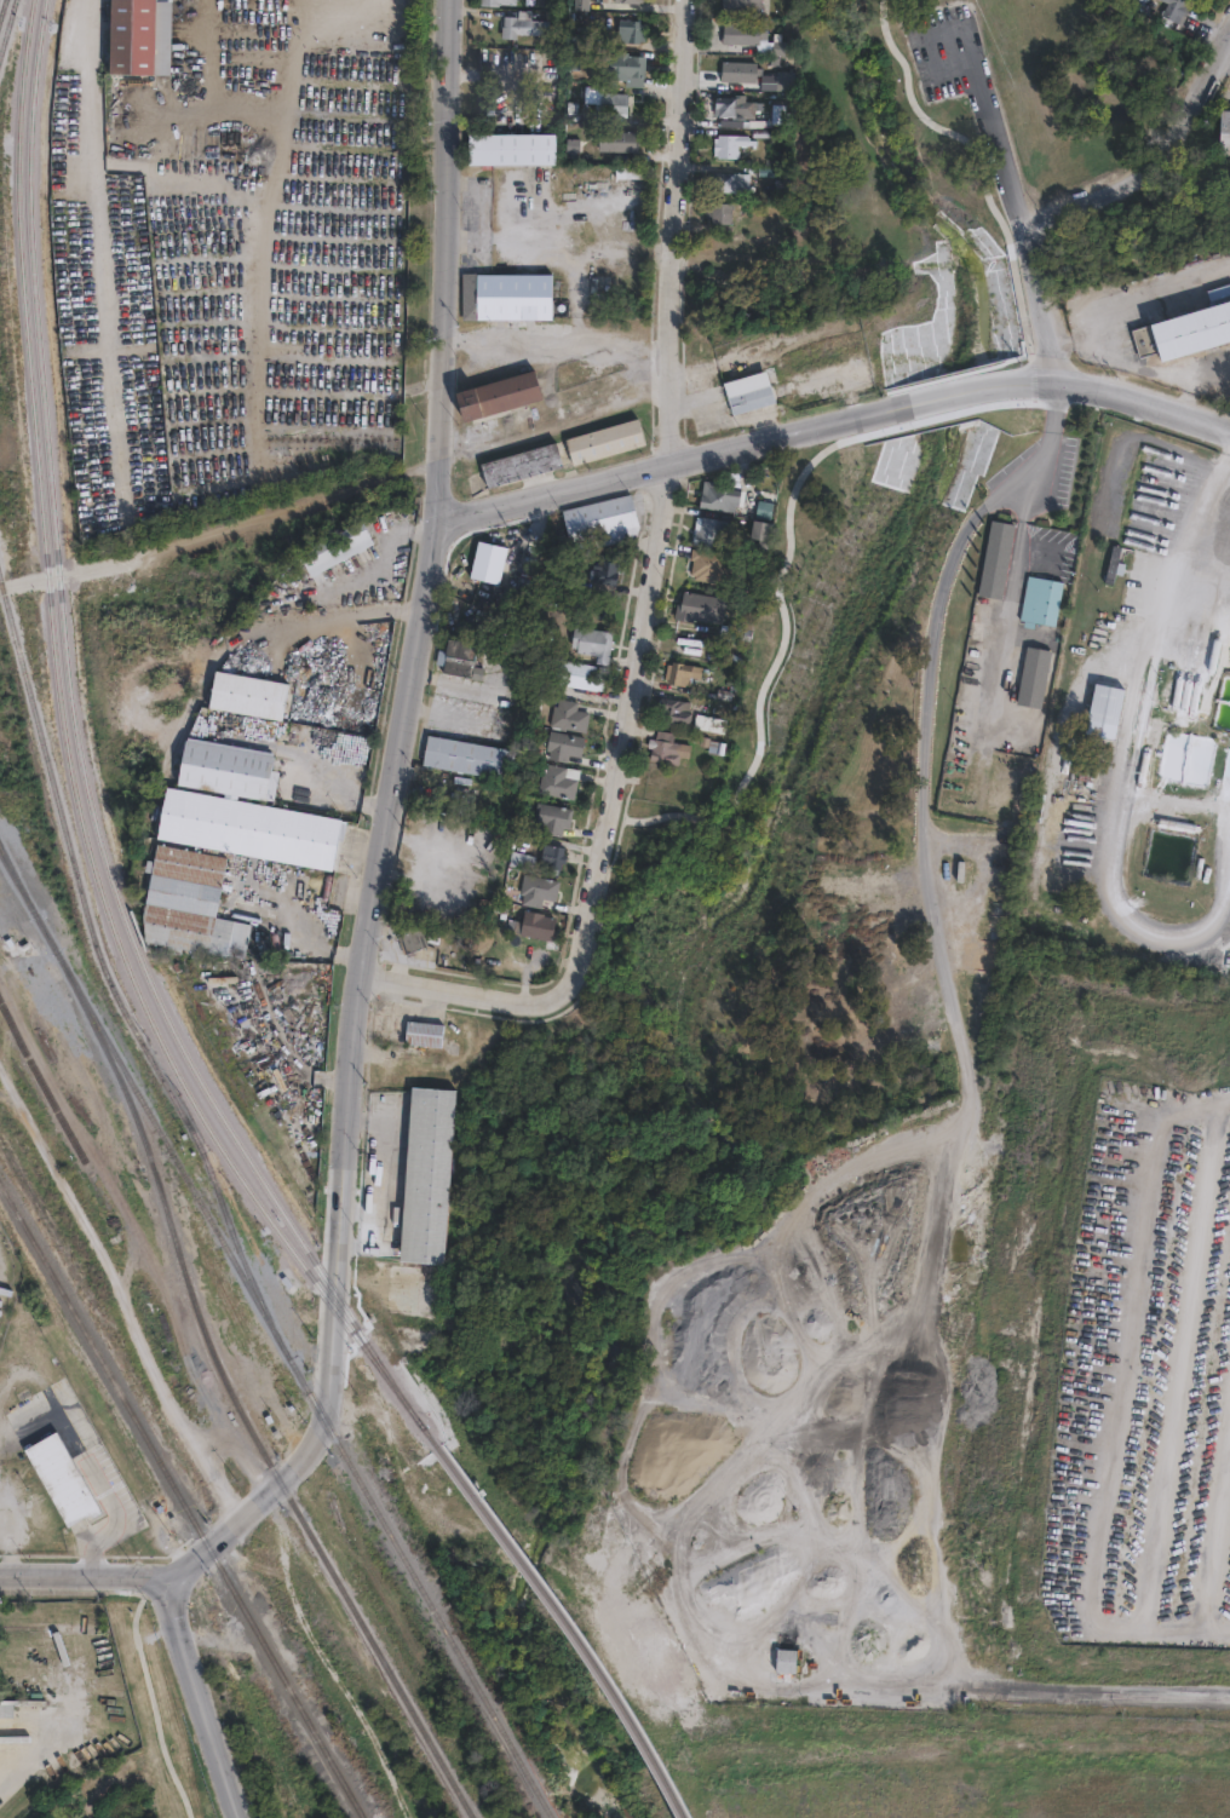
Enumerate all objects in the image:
building: (631, 1)
building: (496, 2)
building: (1163, 2)
building: (581, 5)
building: (742, 7)
building: (1177, 7)
railway: (5, 17)
building: (519, 24)
building: (630, 30)
building: (743, 34)
building: (132, 36)
railway: (10, 38)
building: (774, 48)
parking lot: (947, 54)
building: (623, 68)
building: (737, 73)
building: (786, 80)
building: (611, 104)
building: (734, 105)
building: (575, 111)
building: (780, 114)
park: (930, 122)
building: (1222, 137)
building: (617, 142)
building: (728, 144)
building: (511, 149)
road: (1160, 151)
building: (634, 173)
building: (724, 180)
road: (1024, 203)
building: (720, 212)
building: (781, 226)
road: (444, 261)
building: (507, 295)
building: (1182, 338)
road: (557, 343)
building: (746, 387)
building: (499, 395)
road: (833, 420)
building: (605, 441)
building: (522, 465)
road: (667, 496)
building: (717, 499)
building: (764, 510)
building: (608, 522)
building: (765, 523)
building: (708, 531)
building: (340, 546)
building: (992, 563)
building: (705, 565)
building: (609, 570)
building: (1108, 574)
road: (1015, 602)
building: (1036, 604)
building: (697, 609)
road: (362, 612)
building: (741, 632)
building: (596, 642)
building: (465, 657)
building: (679, 674)
building: (584, 675)
building: (1029, 680)
building: (251, 689)
building: (714, 712)
building: (673, 713)
building: (571, 715)
building: (567, 743)
building: (720, 749)
building: (672, 752)
building: (469, 755)
railway: (81, 756)
railway: (68, 761)
building: (558, 781)
building: (240, 811)
building: (554, 816)
building: (554, 856)
railway: (10, 868)
railway: (10, 870)
road: (375, 882)
building: (540, 888)
building: (190, 903)
railway: (38, 920)
building: (540, 926)
building: (413, 938)
railway: (107, 973)
road: (478, 995)
building: (426, 1035)
road: (969, 1053)
building: (228, 1094)
railway: (169, 1150)
road: (519, 1161)
building: (430, 1176)
railway: (156, 1181)
building: (416, 1289)
road: (331, 1333)
road: (1182, 1363)
road: (44, 1365)
road: (1117, 1402)
railway: (432, 1436)
building: (63, 1480)
railway: (183, 1501)
road: (253, 1508)
road: (1215, 1529)
road: (4, 1576)
road: (52, 1577)
road: (131, 1580)
railway: (416, 1582)
railway: (357, 1617)
railway: (22, 1626)
railway: (570, 1626)
building: (782, 1659)
road: (150, 1695)
road: (196, 1699)
road: (27, 1761)

